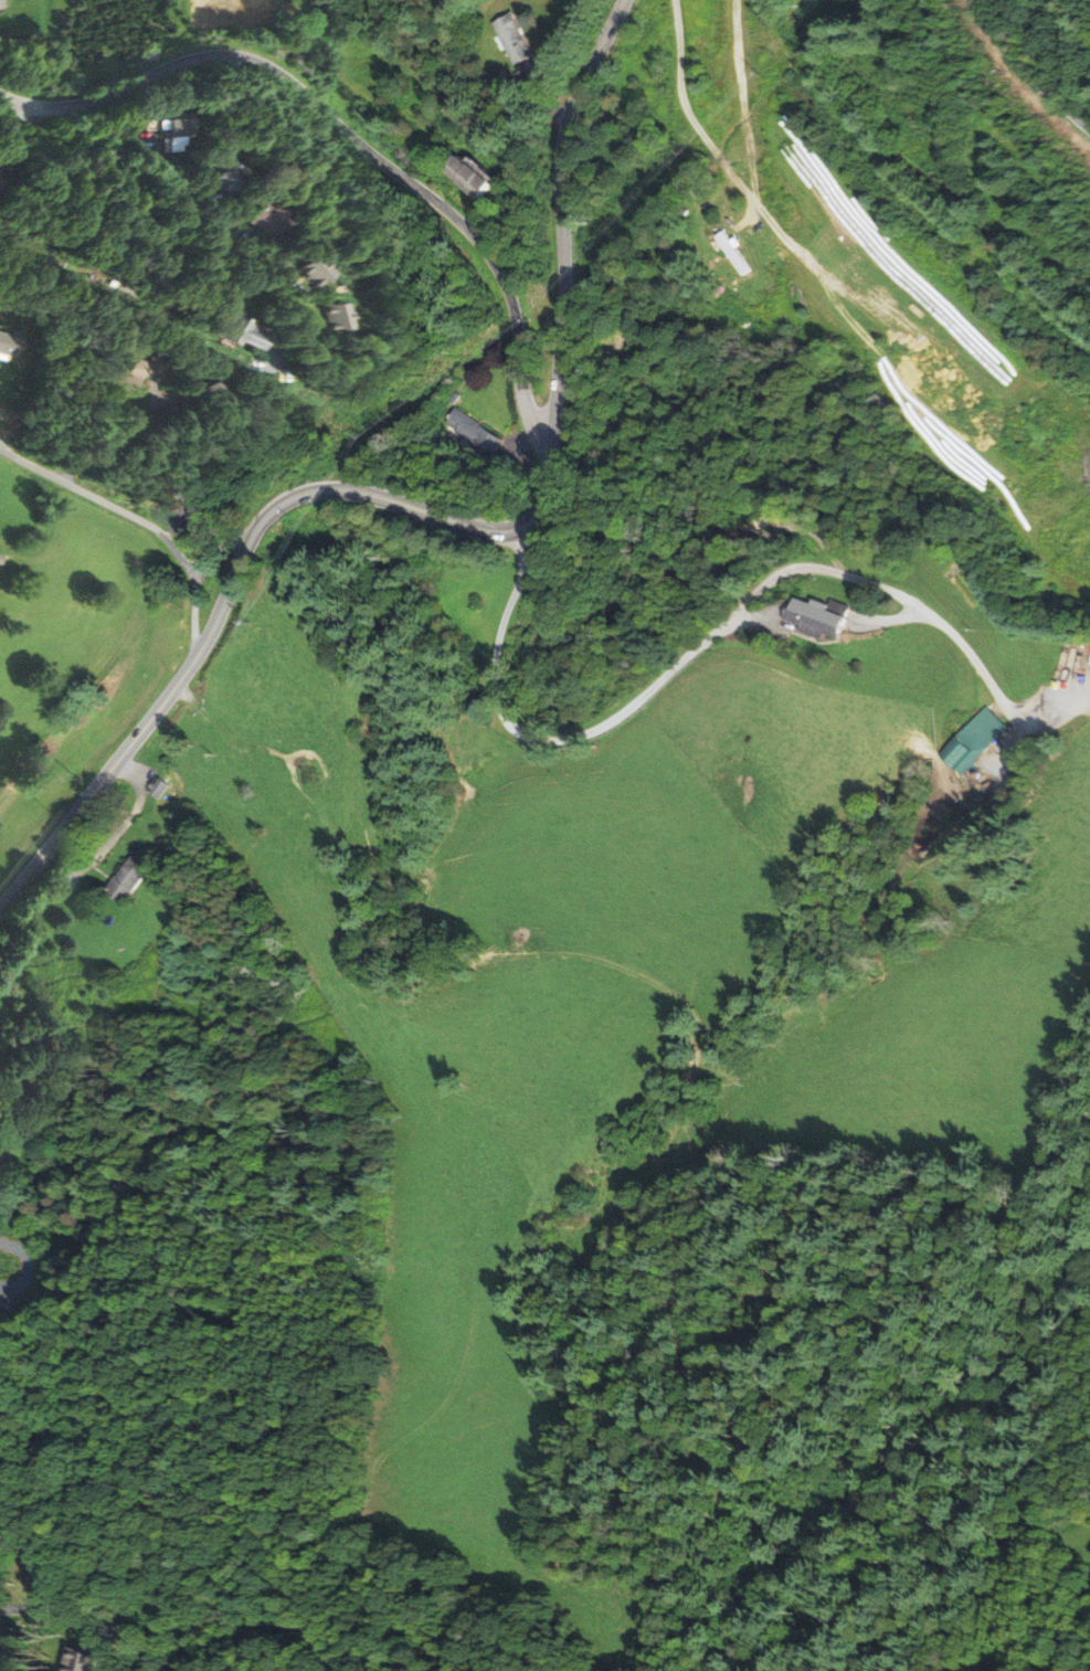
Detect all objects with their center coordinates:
building: (520, 39)
road: (1031, 67)
road: (686, 105)
road: (13, 128)
building: (190, 133)
road: (353, 139)
road: (681, 169)
building: (490, 174)
building: (2, 179)
building: (250, 179)
road: (563, 193)
road: (189, 210)
building: (294, 220)
building: (738, 254)
building: (347, 267)
building: (369, 315)
building: (272, 330)
building: (139, 373)
building: (234, 393)
road: (167, 398)
road: (123, 437)
road: (4, 447)
building: (202, 486)
road: (414, 509)
road: (141, 520)
road: (179, 525)
building: (827, 617)
road: (716, 632)
building: (975, 741)
road: (118, 762)
building: (151, 789)
road: (88, 856)
building: (129, 876)
road: (28, 1269)
building: (41, 1564)
road: (18, 1610)
building: (80, 1660)

